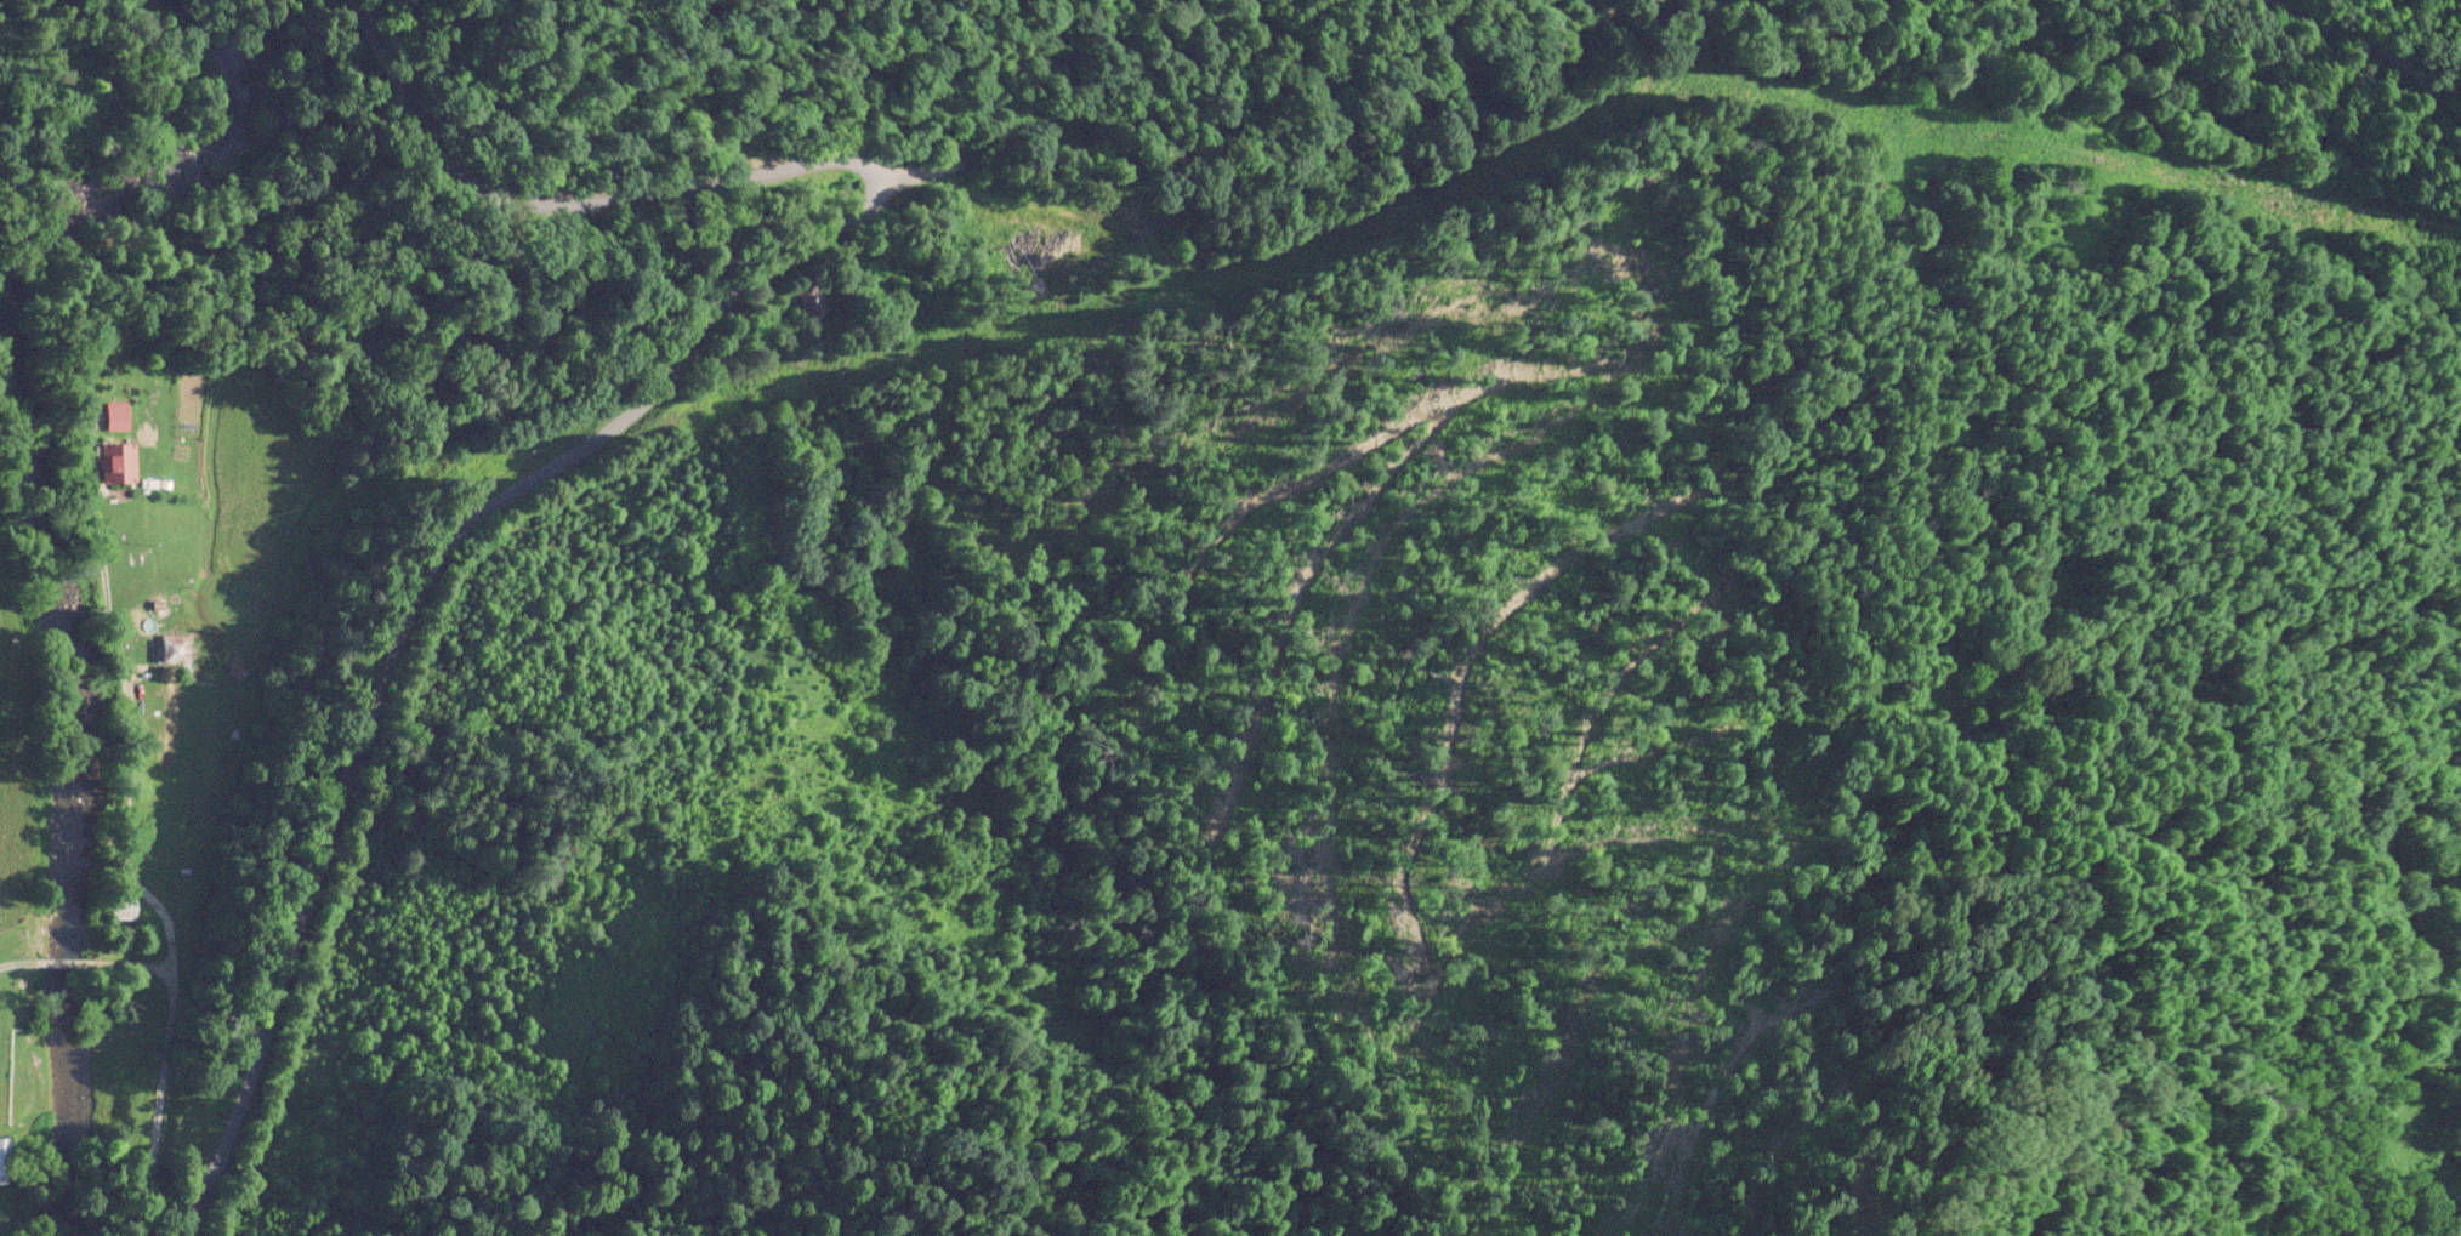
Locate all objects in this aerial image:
road: (2383, 49)
road: (2445, 119)
road: (1178, 123)
building: (808, 300)
building: (116, 461)
road: (525, 482)
building: (174, 645)
building: (121, 907)
road: (165, 1139)
building: (2, 1158)

